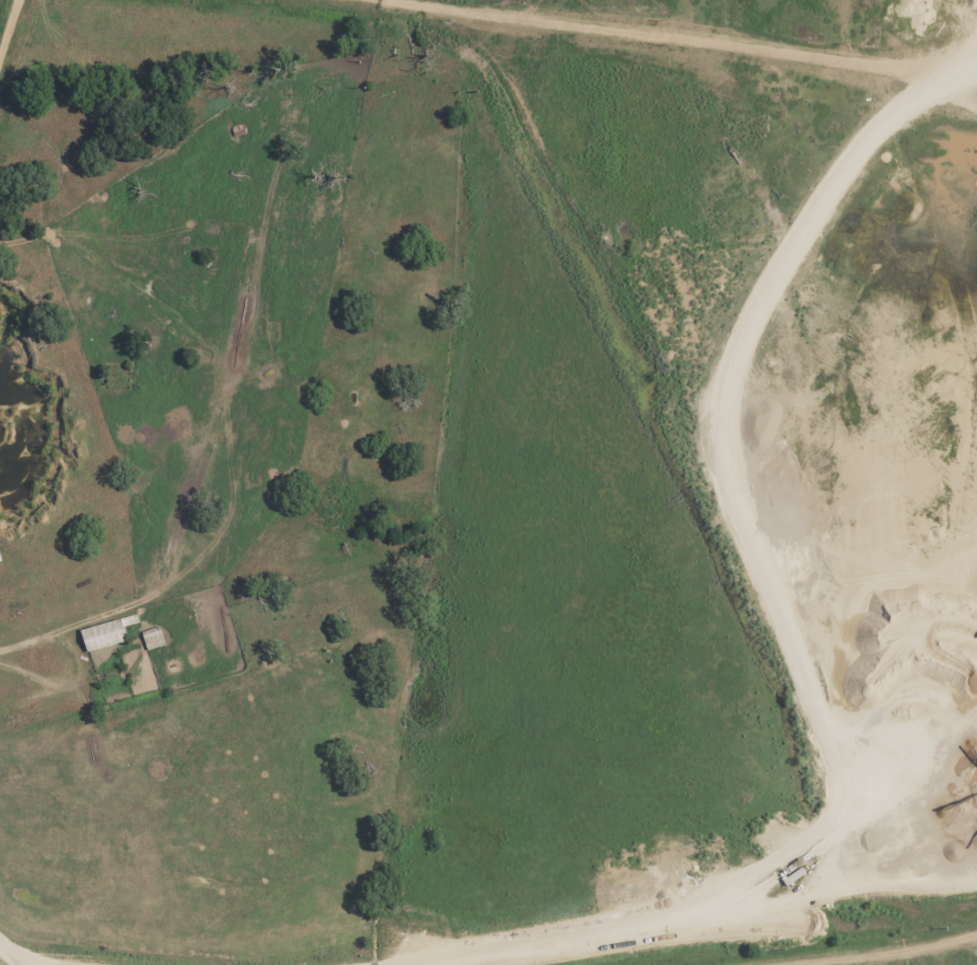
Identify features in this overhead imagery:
road: (8, 25)
building: (1, 556)
building: (109, 634)
building: (155, 639)
road: (866, 943)
road: (15, 949)

